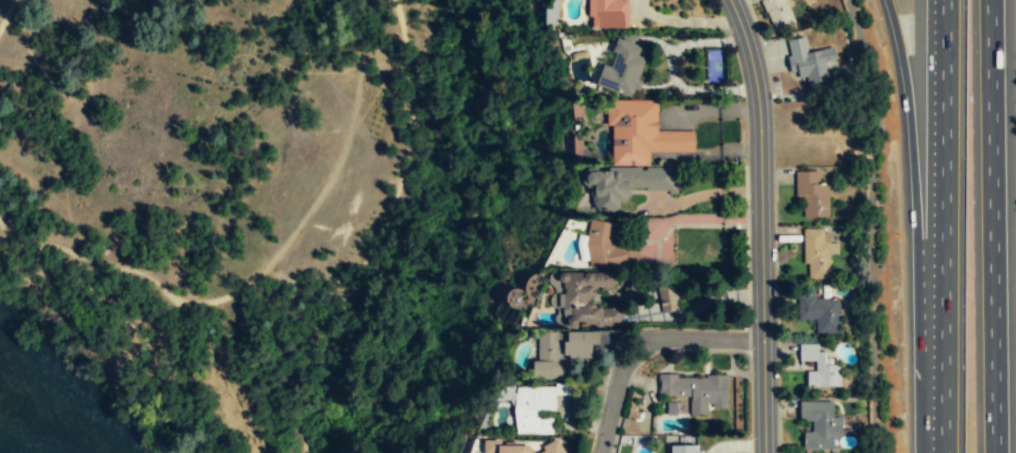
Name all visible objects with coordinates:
building: (778, 13)
road: (7, 14)
building: (609, 14)
road: (400, 20)
building: (806, 62)
building: (623, 69)
building: (641, 132)
road: (339, 161)
building: (628, 183)
building: (812, 193)
park: (280, 208)
road: (761, 224)
road: (916, 225)
road: (943, 226)
road: (993, 226)
building: (608, 246)
building: (817, 251)
road: (127, 269)
building: (668, 297)
building: (589, 299)
building: (820, 312)
road: (642, 341)
building: (561, 352)
building: (820, 366)
building: (696, 390)
building: (537, 407)
building: (670, 408)
building: (819, 424)
building: (503, 448)
building: (553, 449)
building: (685, 449)
river: (3, 450)

